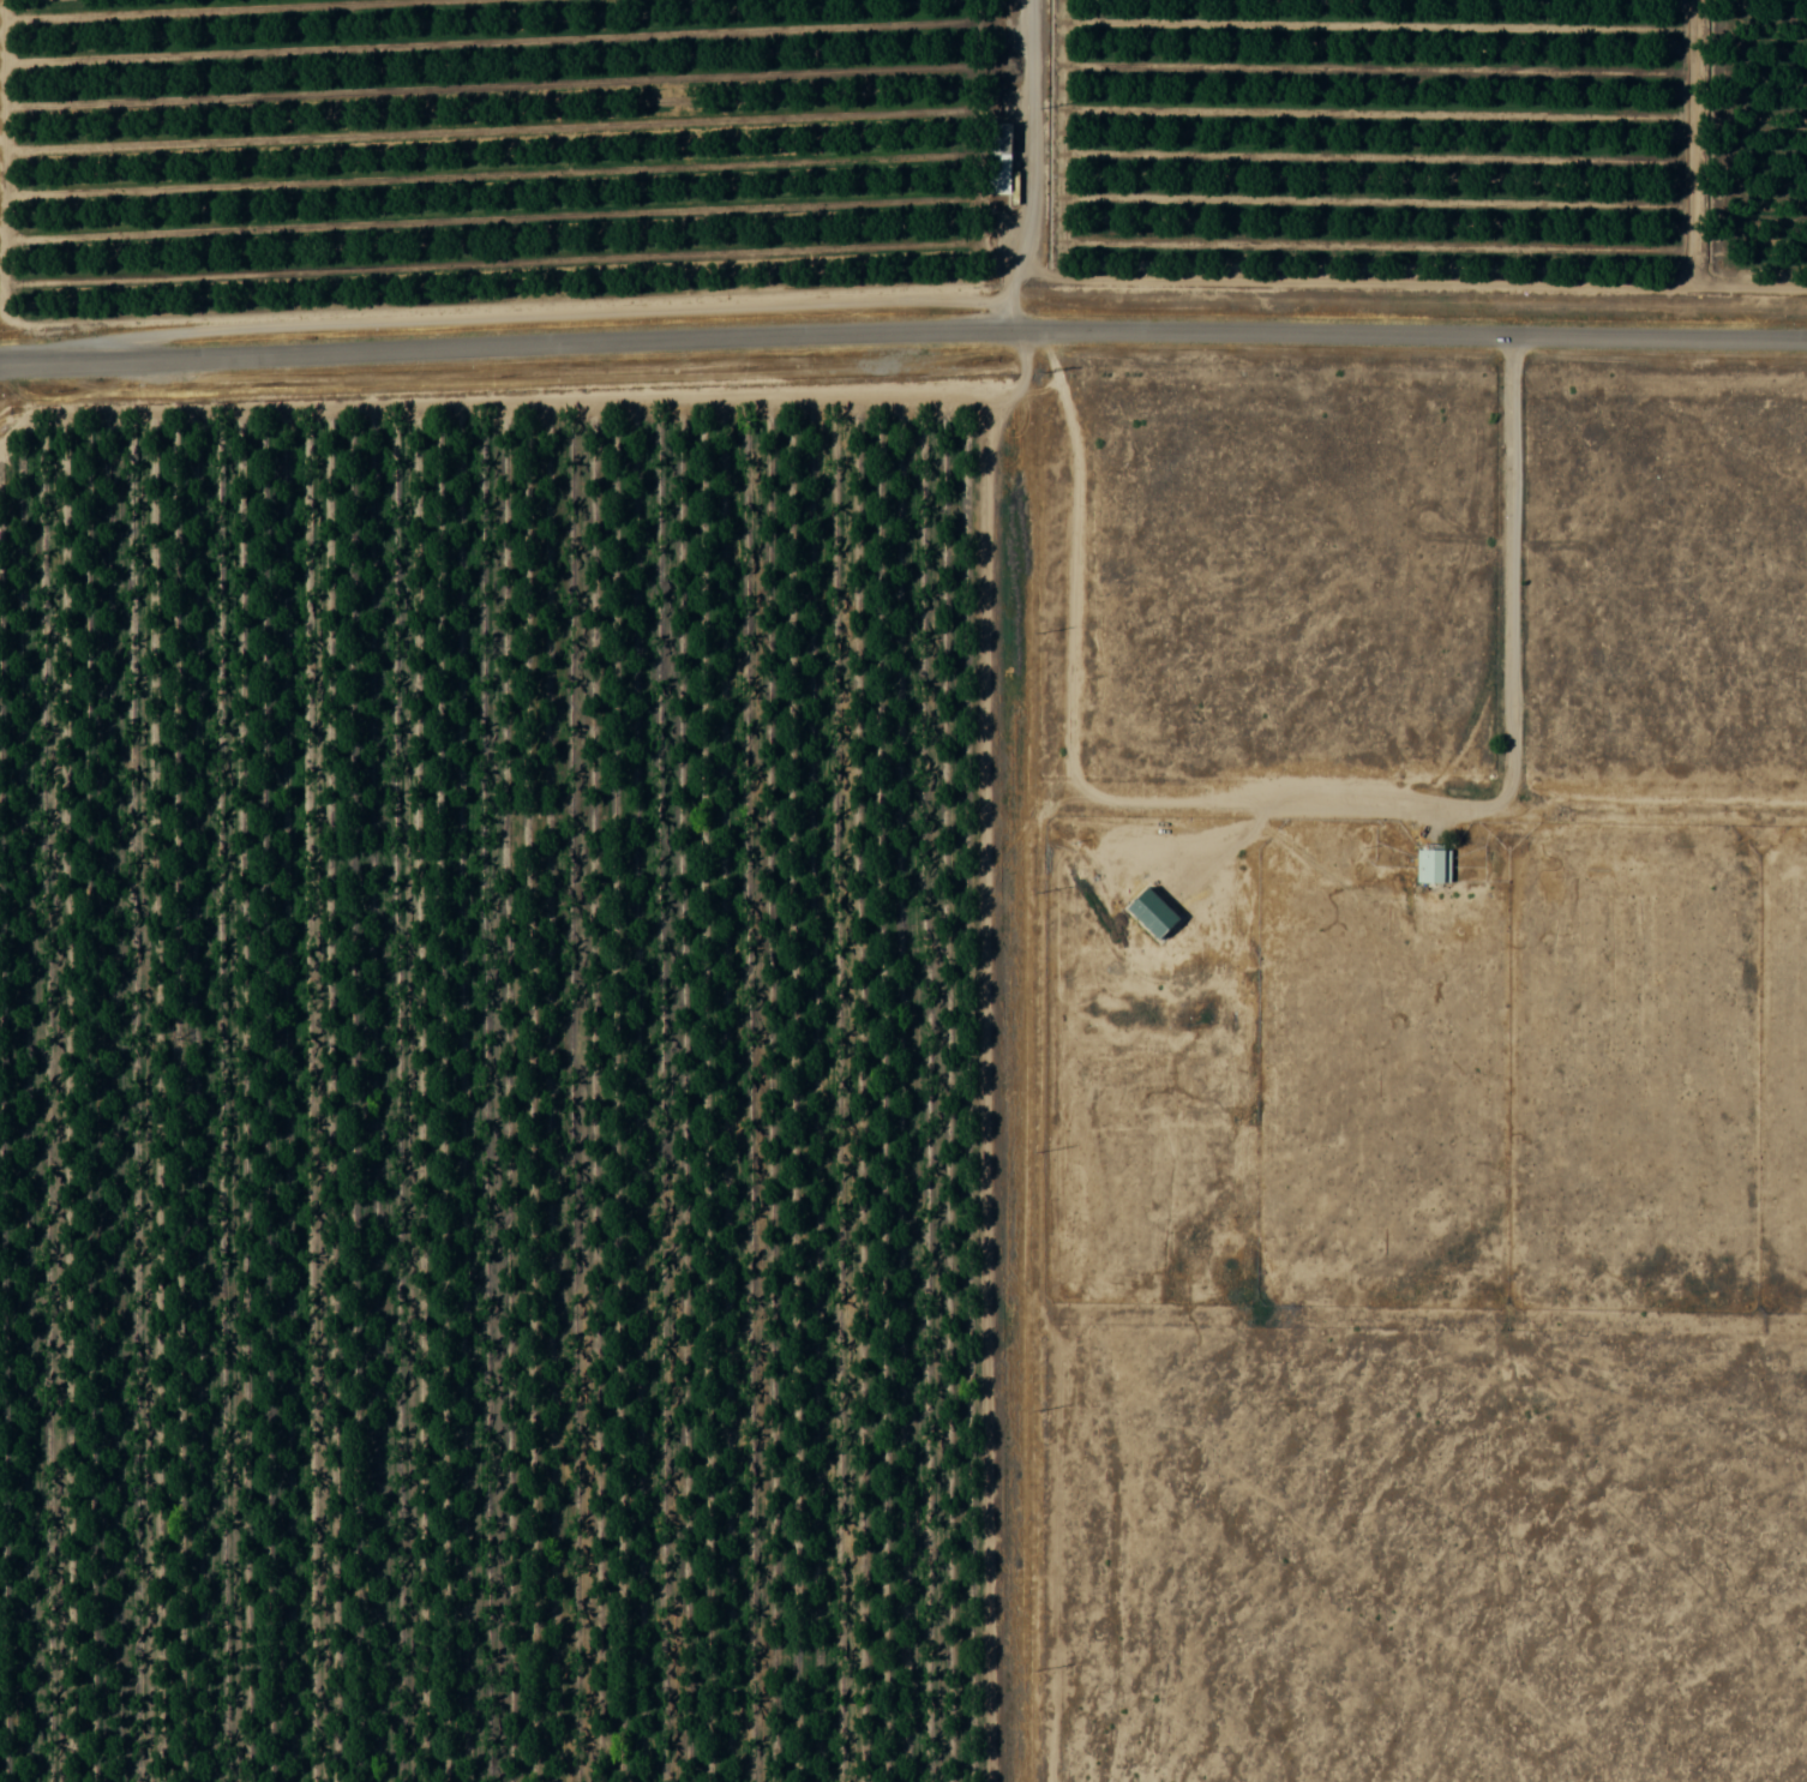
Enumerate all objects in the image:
building: (998, 158)
road: (902, 331)
power tower: (1043, 372)
building: (1433, 865)
road: (991, 890)
building: (1152, 912)
road: (1397, 1310)

